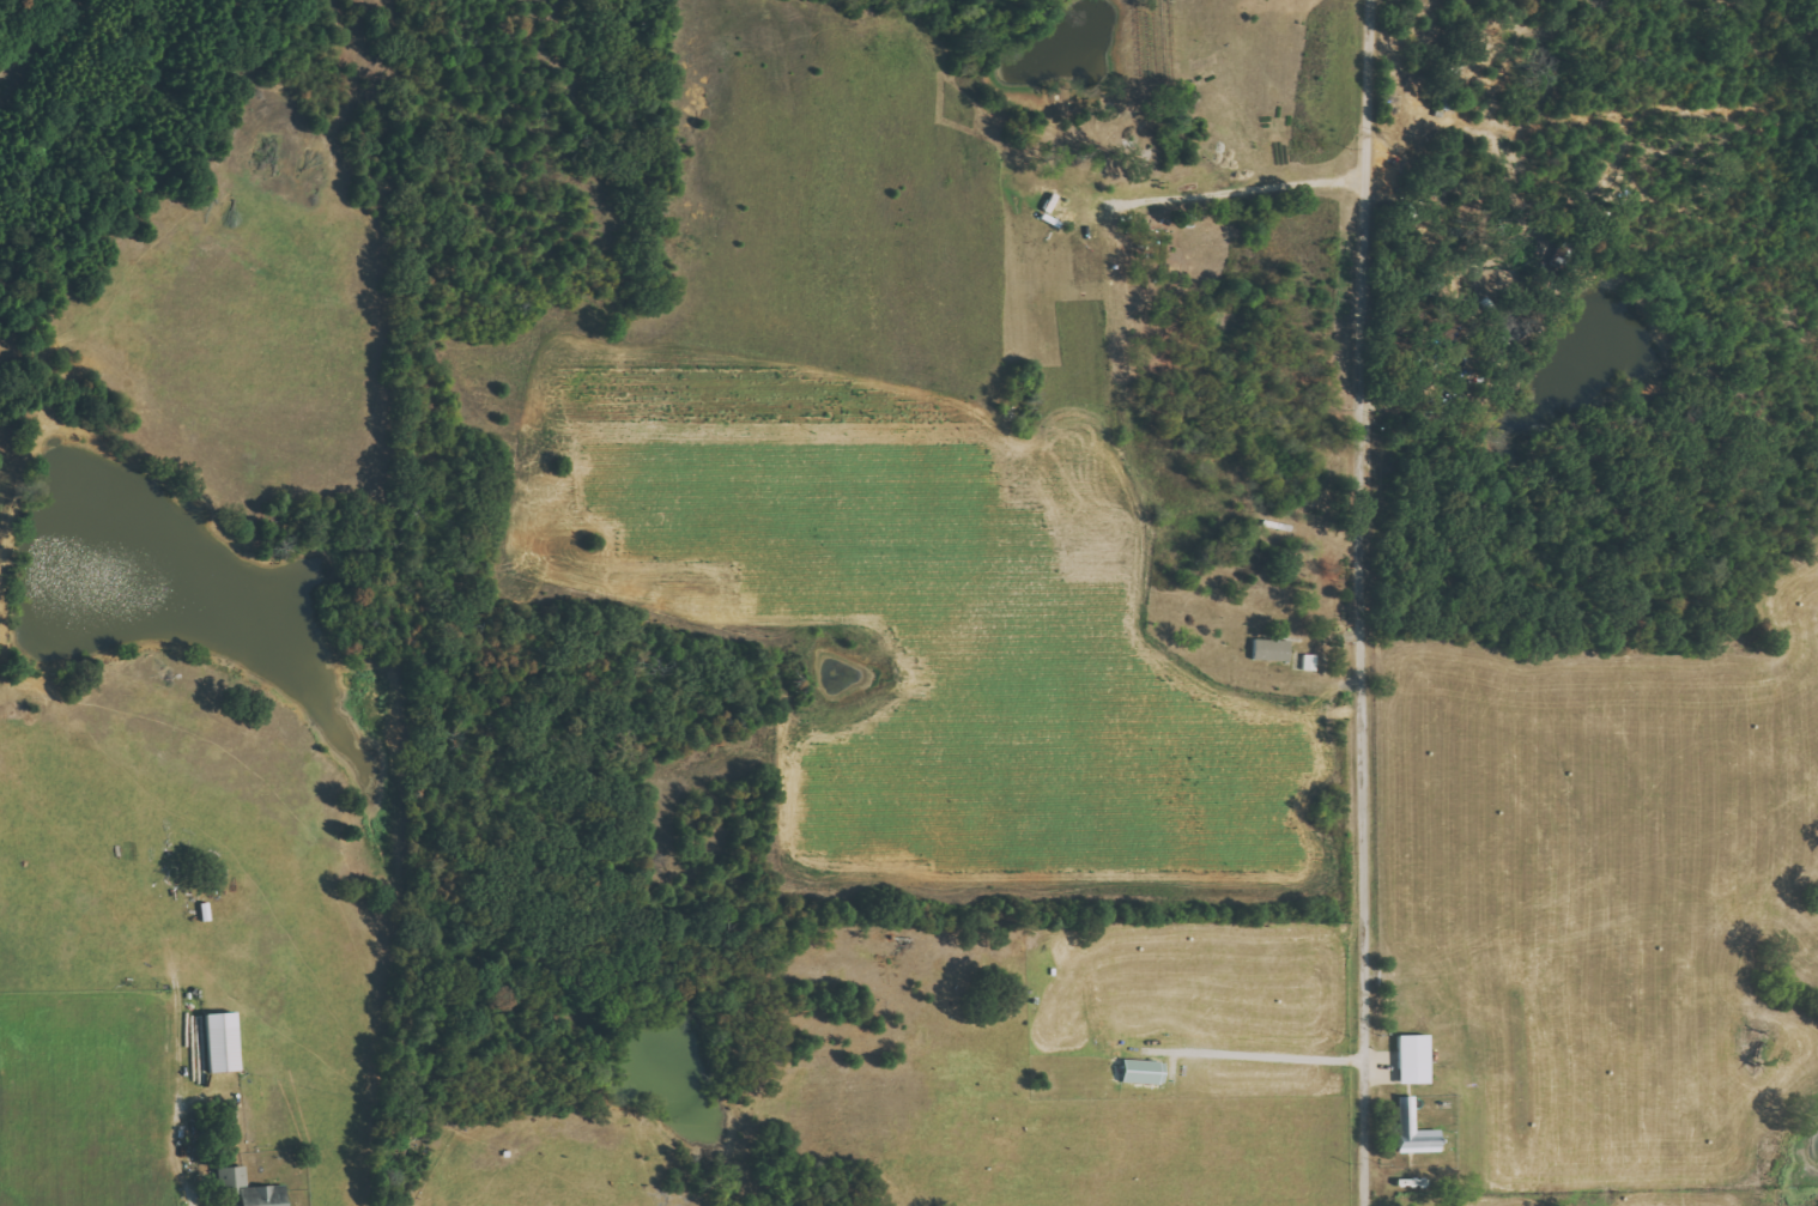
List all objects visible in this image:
road: (1237, 188)
building: (1508, 323)
road: (1364, 602)
building: (1271, 650)
building: (1311, 662)
building: (222, 1042)
building: (1413, 1059)
building: (1414, 1131)
building: (231, 1176)
building: (262, 1195)

